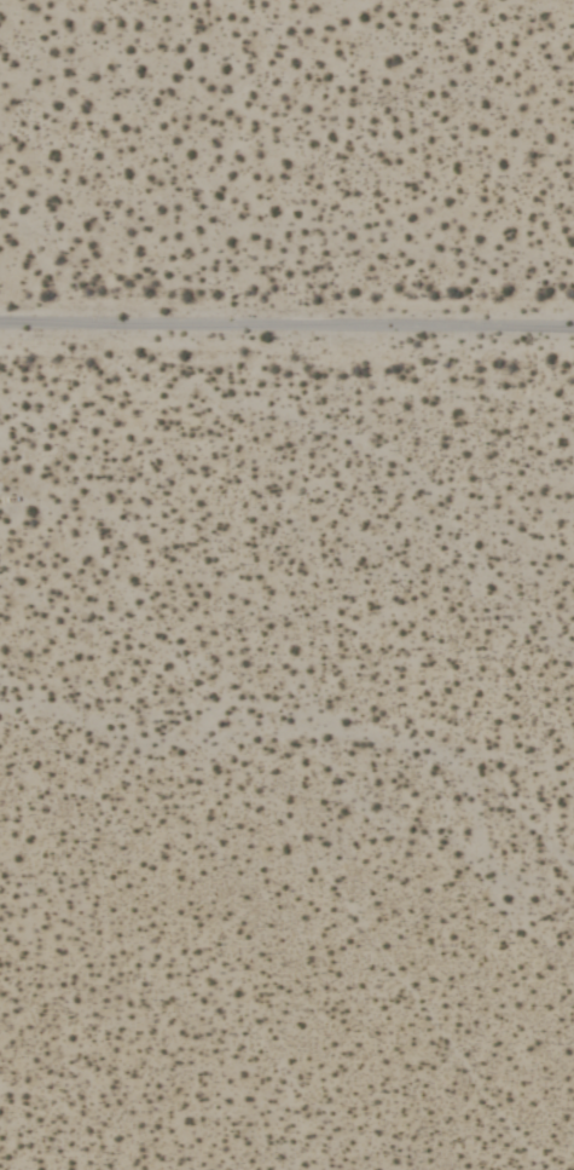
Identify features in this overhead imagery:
road: (286, 330)

